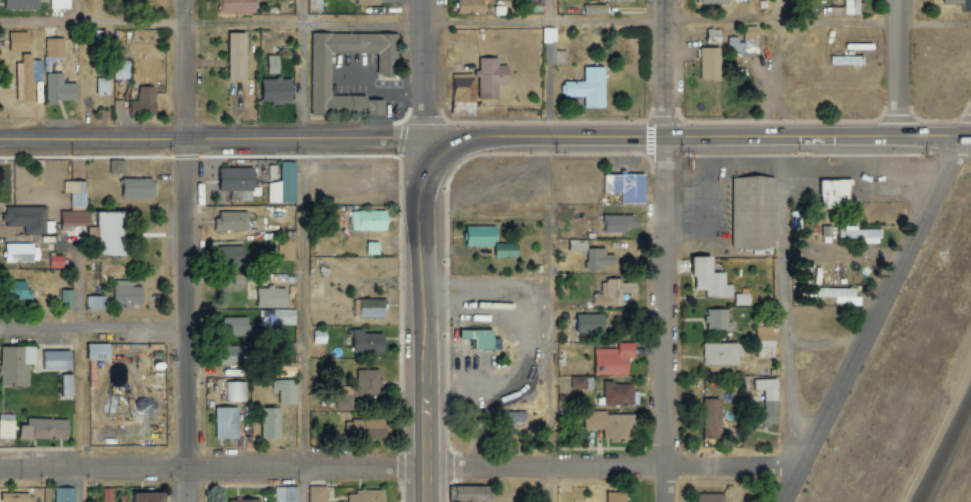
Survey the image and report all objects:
building: (364, 1)
building: (619, 1)
building: (712, 2)
building: (57, 3)
building: (18, 4)
building: (532, 4)
building: (959, 4)
building: (311, 5)
building: (468, 5)
building: (236, 6)
building: (851, 7)
building: (595, 10)
road: (450, 25)
building: (712, 37)
building: (15, 39)
building: (743, 43)
building: (51, 46)
building: (551, 49)
building: (236, 58)
building: (272, 65)
building: (708, 65)
road: (182, 68)
road: (80, 69)
road: (668, 69)
road: (899, 70)
building: (121, 71)
building: (24, 74)
building: (486, 78)
building: (318, 83)
building: (56, 86)
building: (585, 86)
building: (102, 87)
building: (460, 87)
building: (276, 91)
road: (418, 93)
building: (143, 103)
road: (967, 133)
road: (242, 136)
road: (728, 140)
building: (114, 164)
building: (75, 166)
building: (236, 183)
building: (283, 185)
building: (134, 186)
building: (626, 187)
building: (75, 192)
building: (834, 193)
building: (749, 210)
building: (24, 217)
building: (71, 217)
building: (368, 218)
building: (231, 221)
building: (618, 223)
building: (108, 231)
road: (778, 234)
building: (859, 234)
building: (477, 235)
building: (577, 245)
building: (370, 247)
building: (17, 250)
road: (299, 250)
building: (505, 250)
road: (554, 250)
building: (285, 251)
building: (232, 256)
building: (597, 259)
building: (53, 260)
building: (709, 279)
building: (14, 287)
building: (124, 290)
building: (613, 293)
building: (839, 295)
building: (271, 297)
building: (63, 298)
building: (741, 299)
building: (93, 301)
road: (422, 302)
building: (368, 308)
building: (264, 318)
road: (186, 319)
building: (717, 320)
road: (668, 321)
road: (878, 321)
building: (589, 323)
building: (234, 326)
road: (93, 327)
building: (319, 337)
building: (481, 338)
building: (366, 342)
building: (764, 342)
building: (721, 353)
building: (99, 355)
building: (232, 355)
building: (613, 360)
building: (56, 364)
building: (15, 368)
building: (581, 383)
building: (68, 389)
building: (358, 389)
building: (285, 391)
building: (235, 392)
building: (619, 394)
building: (767, 401)
water tower: (119, 406)
building: (514, 417)
building: (711, 418)
building: (225, 423)
building: (270, 423)
building: (610, 425)
building: (366, 429)
building: (7, 431)
building: (45, 434)
railway: (944, 448)
road: (212, 467)
road: (616, 470)
road: (76, 484)
building: (105, 493)
building: (282, 493)
building: (315, 493)
building: (61, 494)
building: (469, 494)
building: (364, 495)
building: (13, 496)
building: (147, 496)
building: (616, 497)
building: (710, 498)
building: (241, 499)

